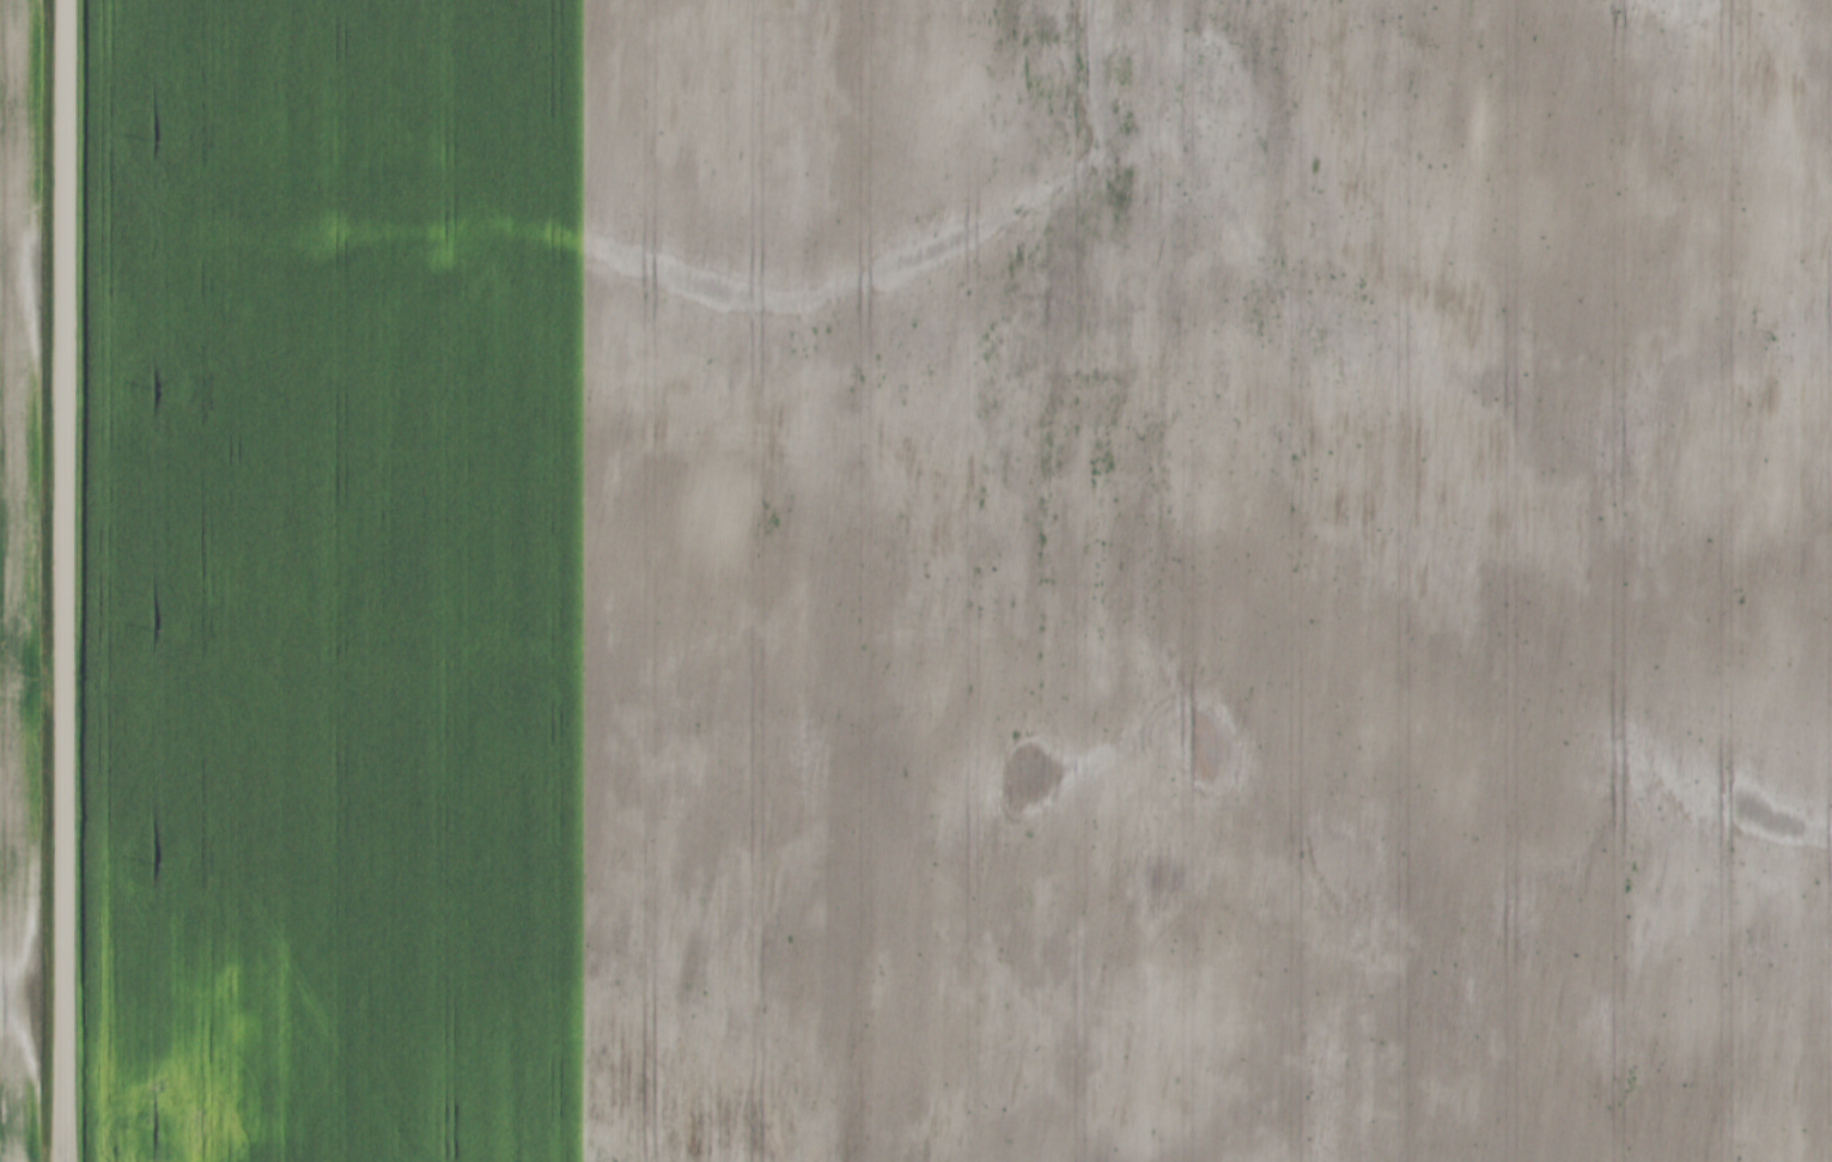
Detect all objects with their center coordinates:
road: (63, 580)

